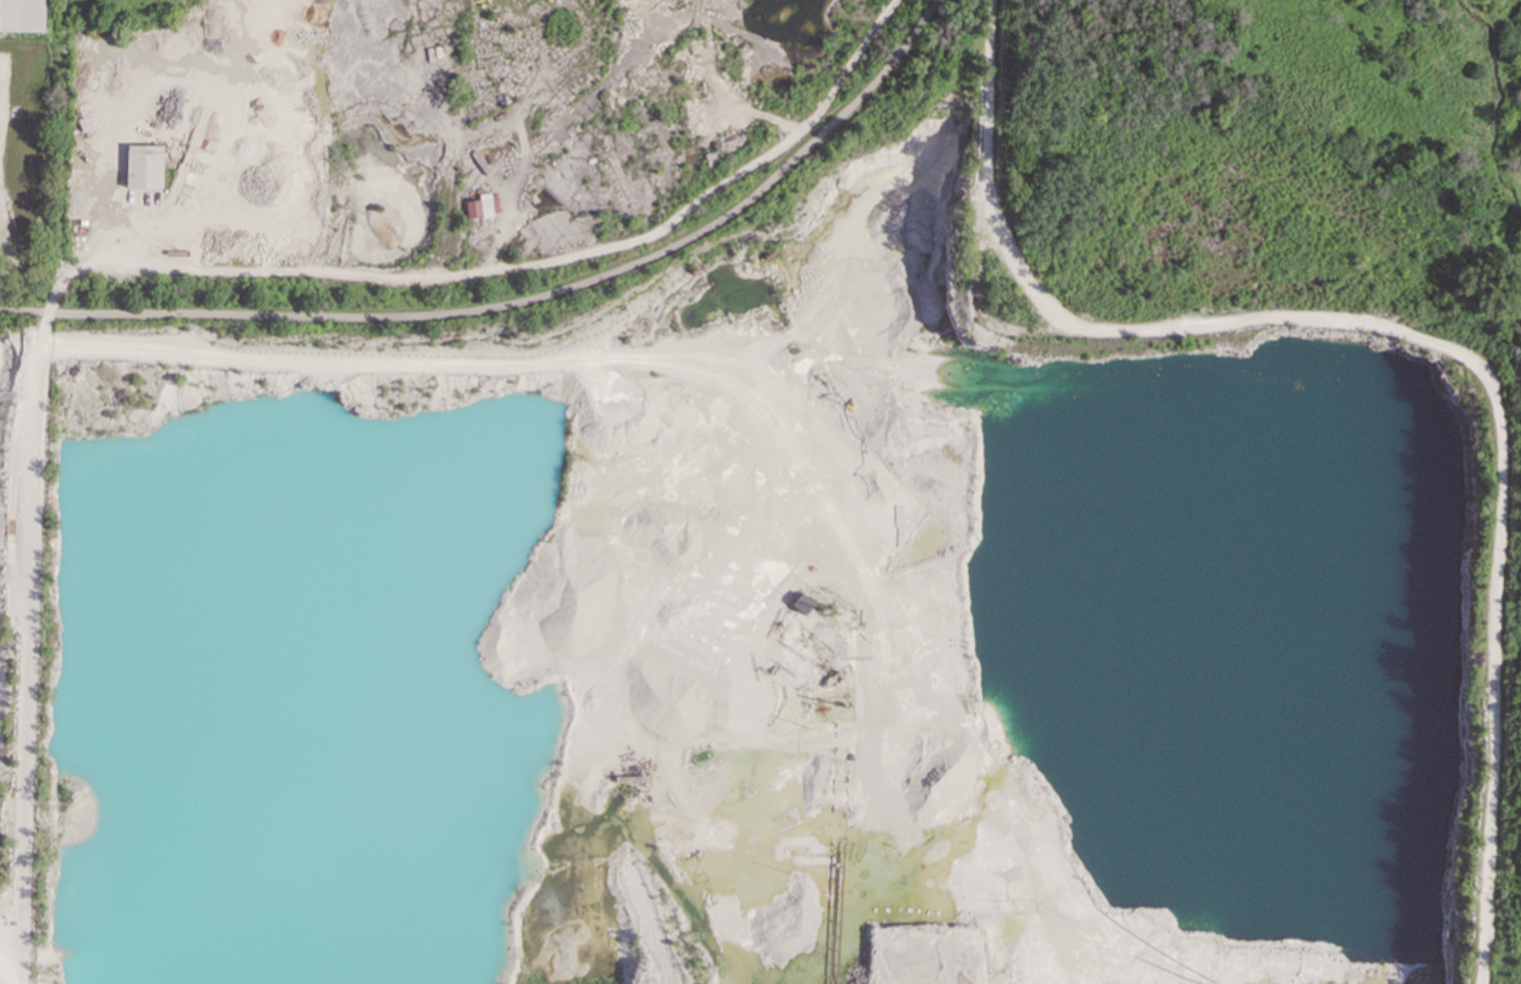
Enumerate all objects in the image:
building: (22, 15)
quarry: (420, 138)
building: (143, 166)
building: (479, 206)
road: (523, 301)
building: (806, 603)
quarry: (773, 614)
road: (1481, 950)

